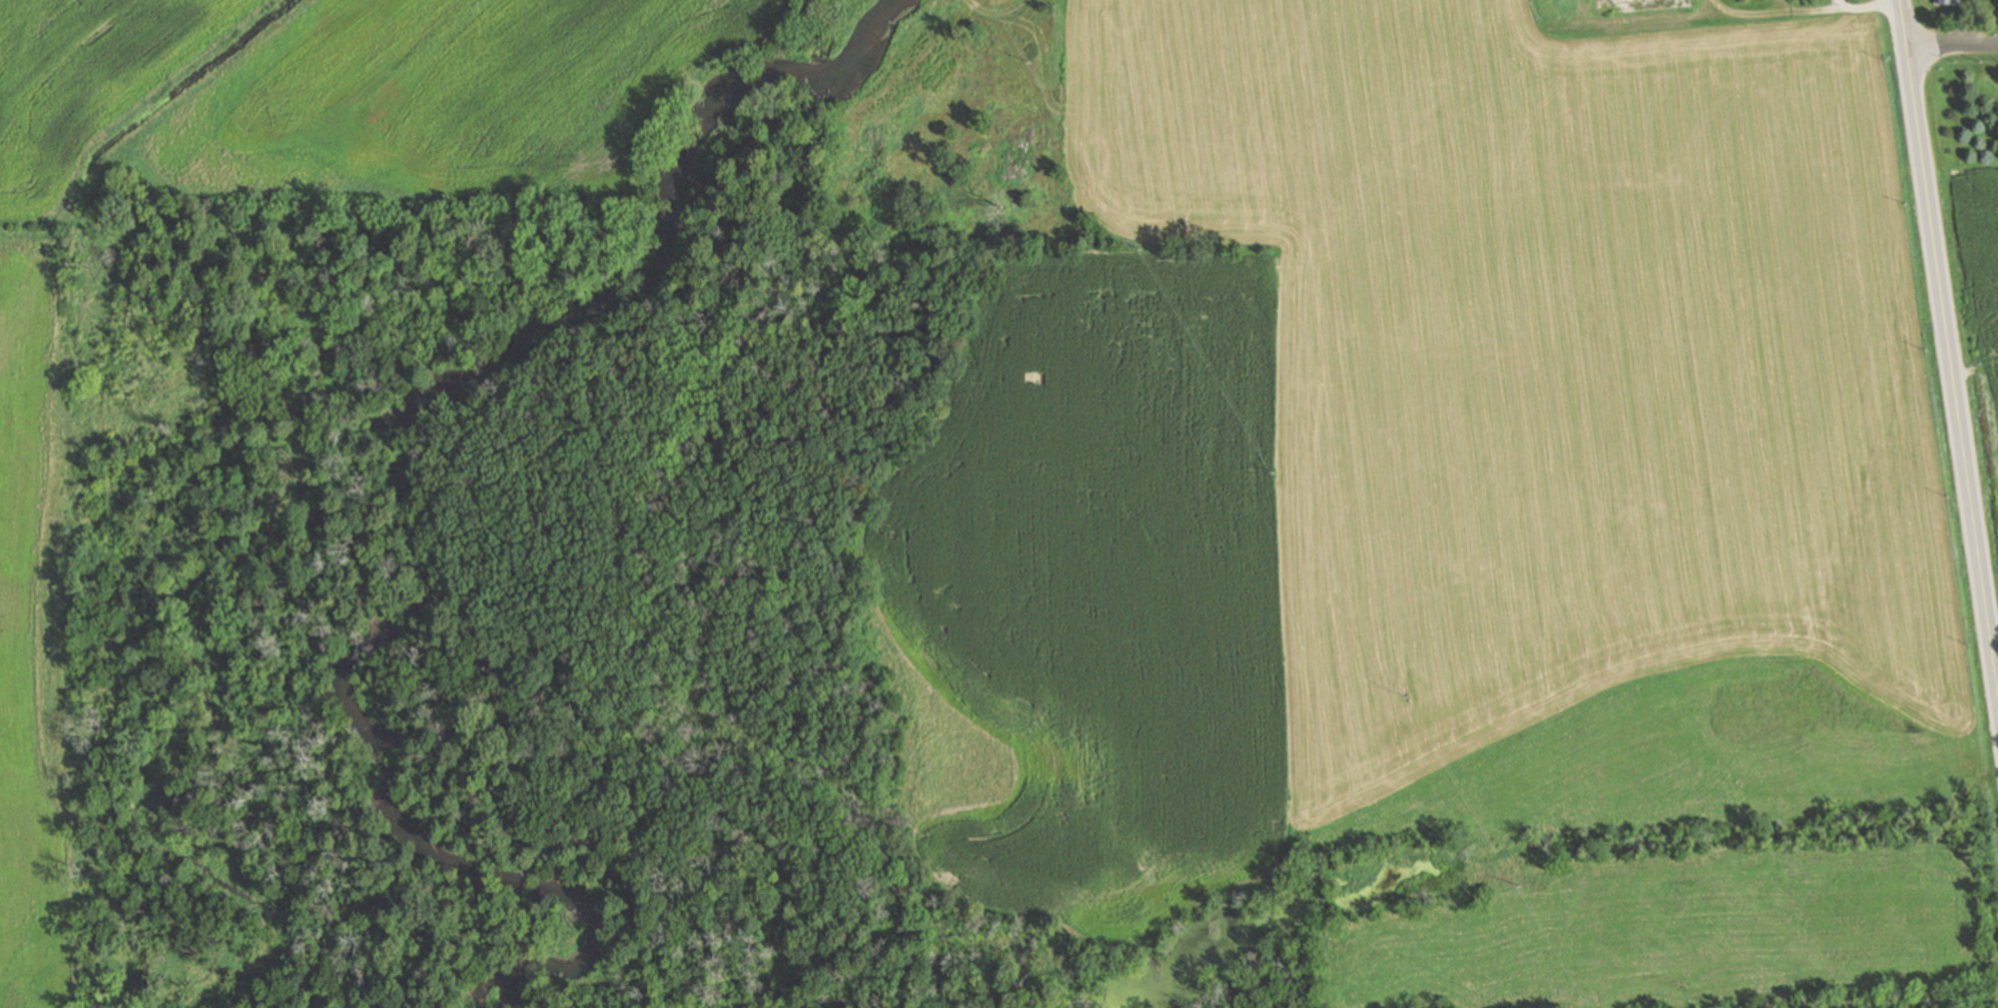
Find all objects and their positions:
building: (1944, 2)
road: (1837, 7)
road: (1750, 13)
road: (1647, 19)
road: (1952, 44)
crop: (88, 78)
crop: (457, 92)
crop: (1982, 282)
road: (1948, 343)
crop: (1405, 432)
river: (427, 447)

